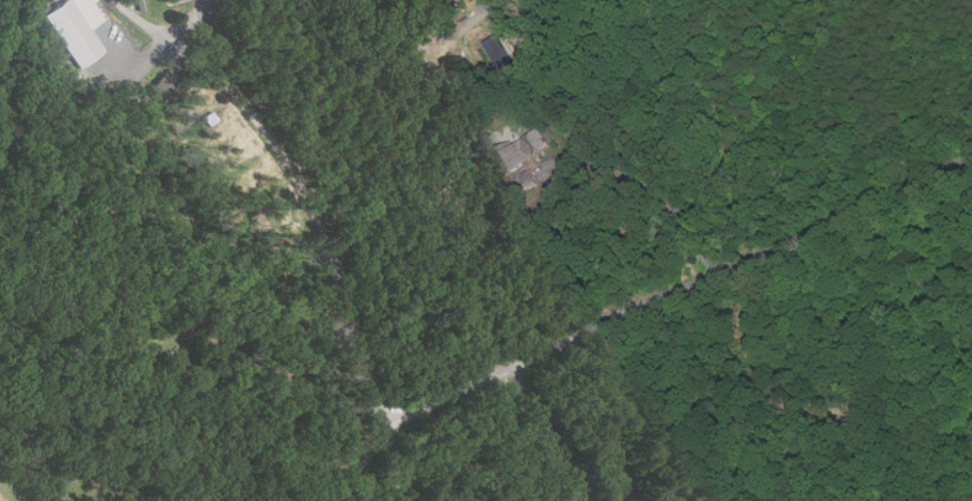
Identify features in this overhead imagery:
building: (140, 5)
building: (75, 28)
building: (425, 36)
building: (501, 54)
building: (165, 80)
building: (525, 157)
road: (560, 161)
road: (299, 182)
road: (668, 294)
road: (396, 465)
road: (367, 470)
road: (298, 474)

